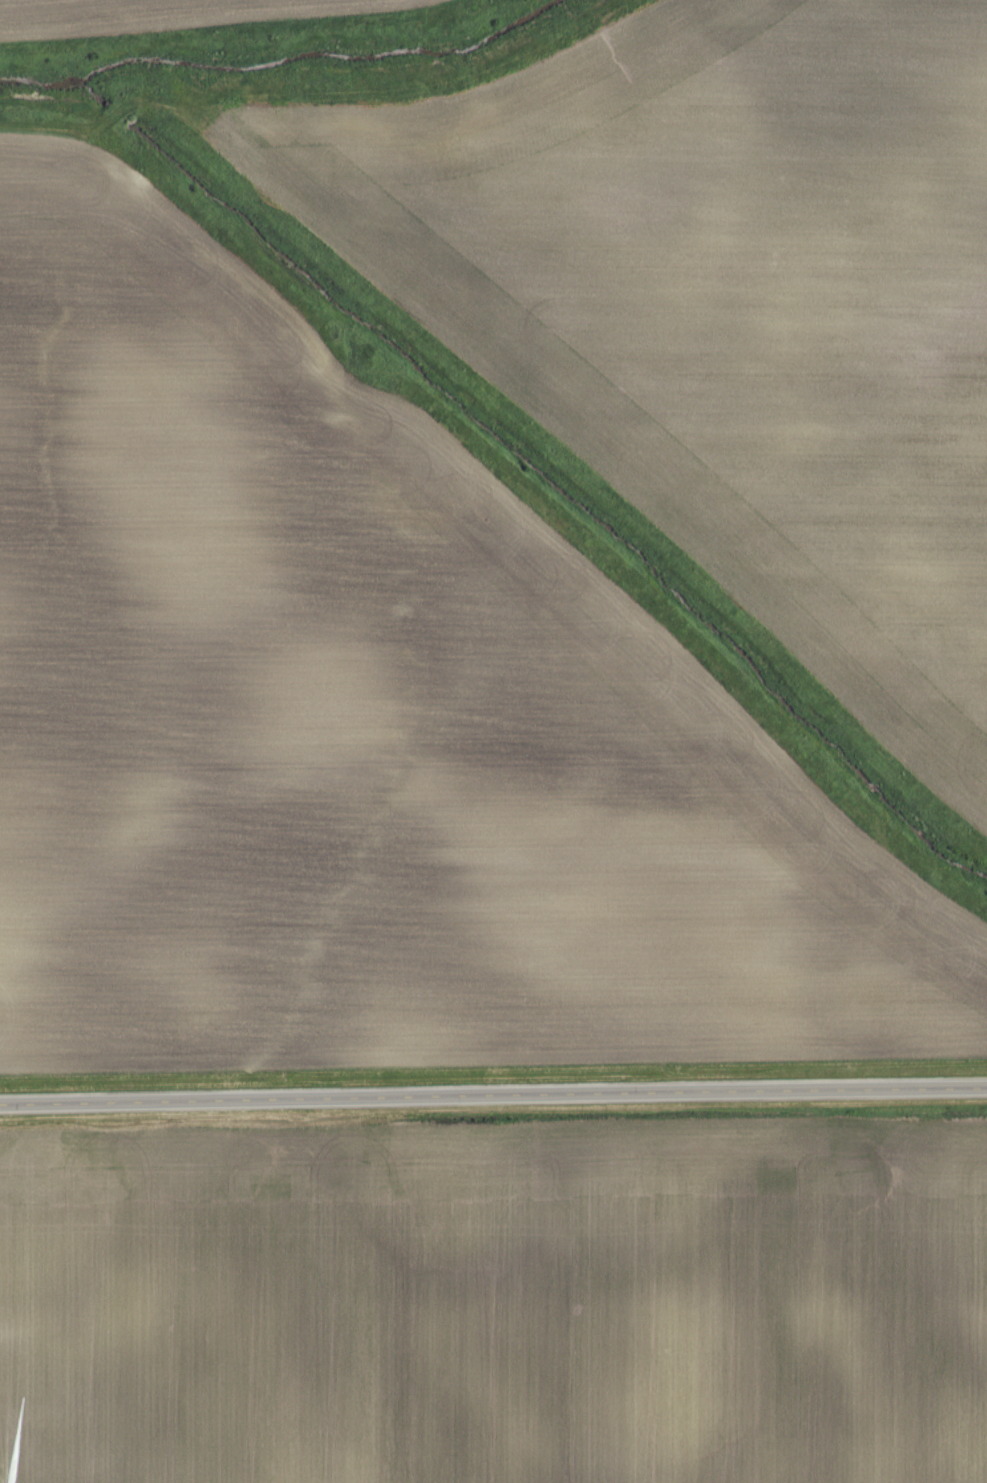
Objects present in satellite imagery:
road: (493, 1094)

